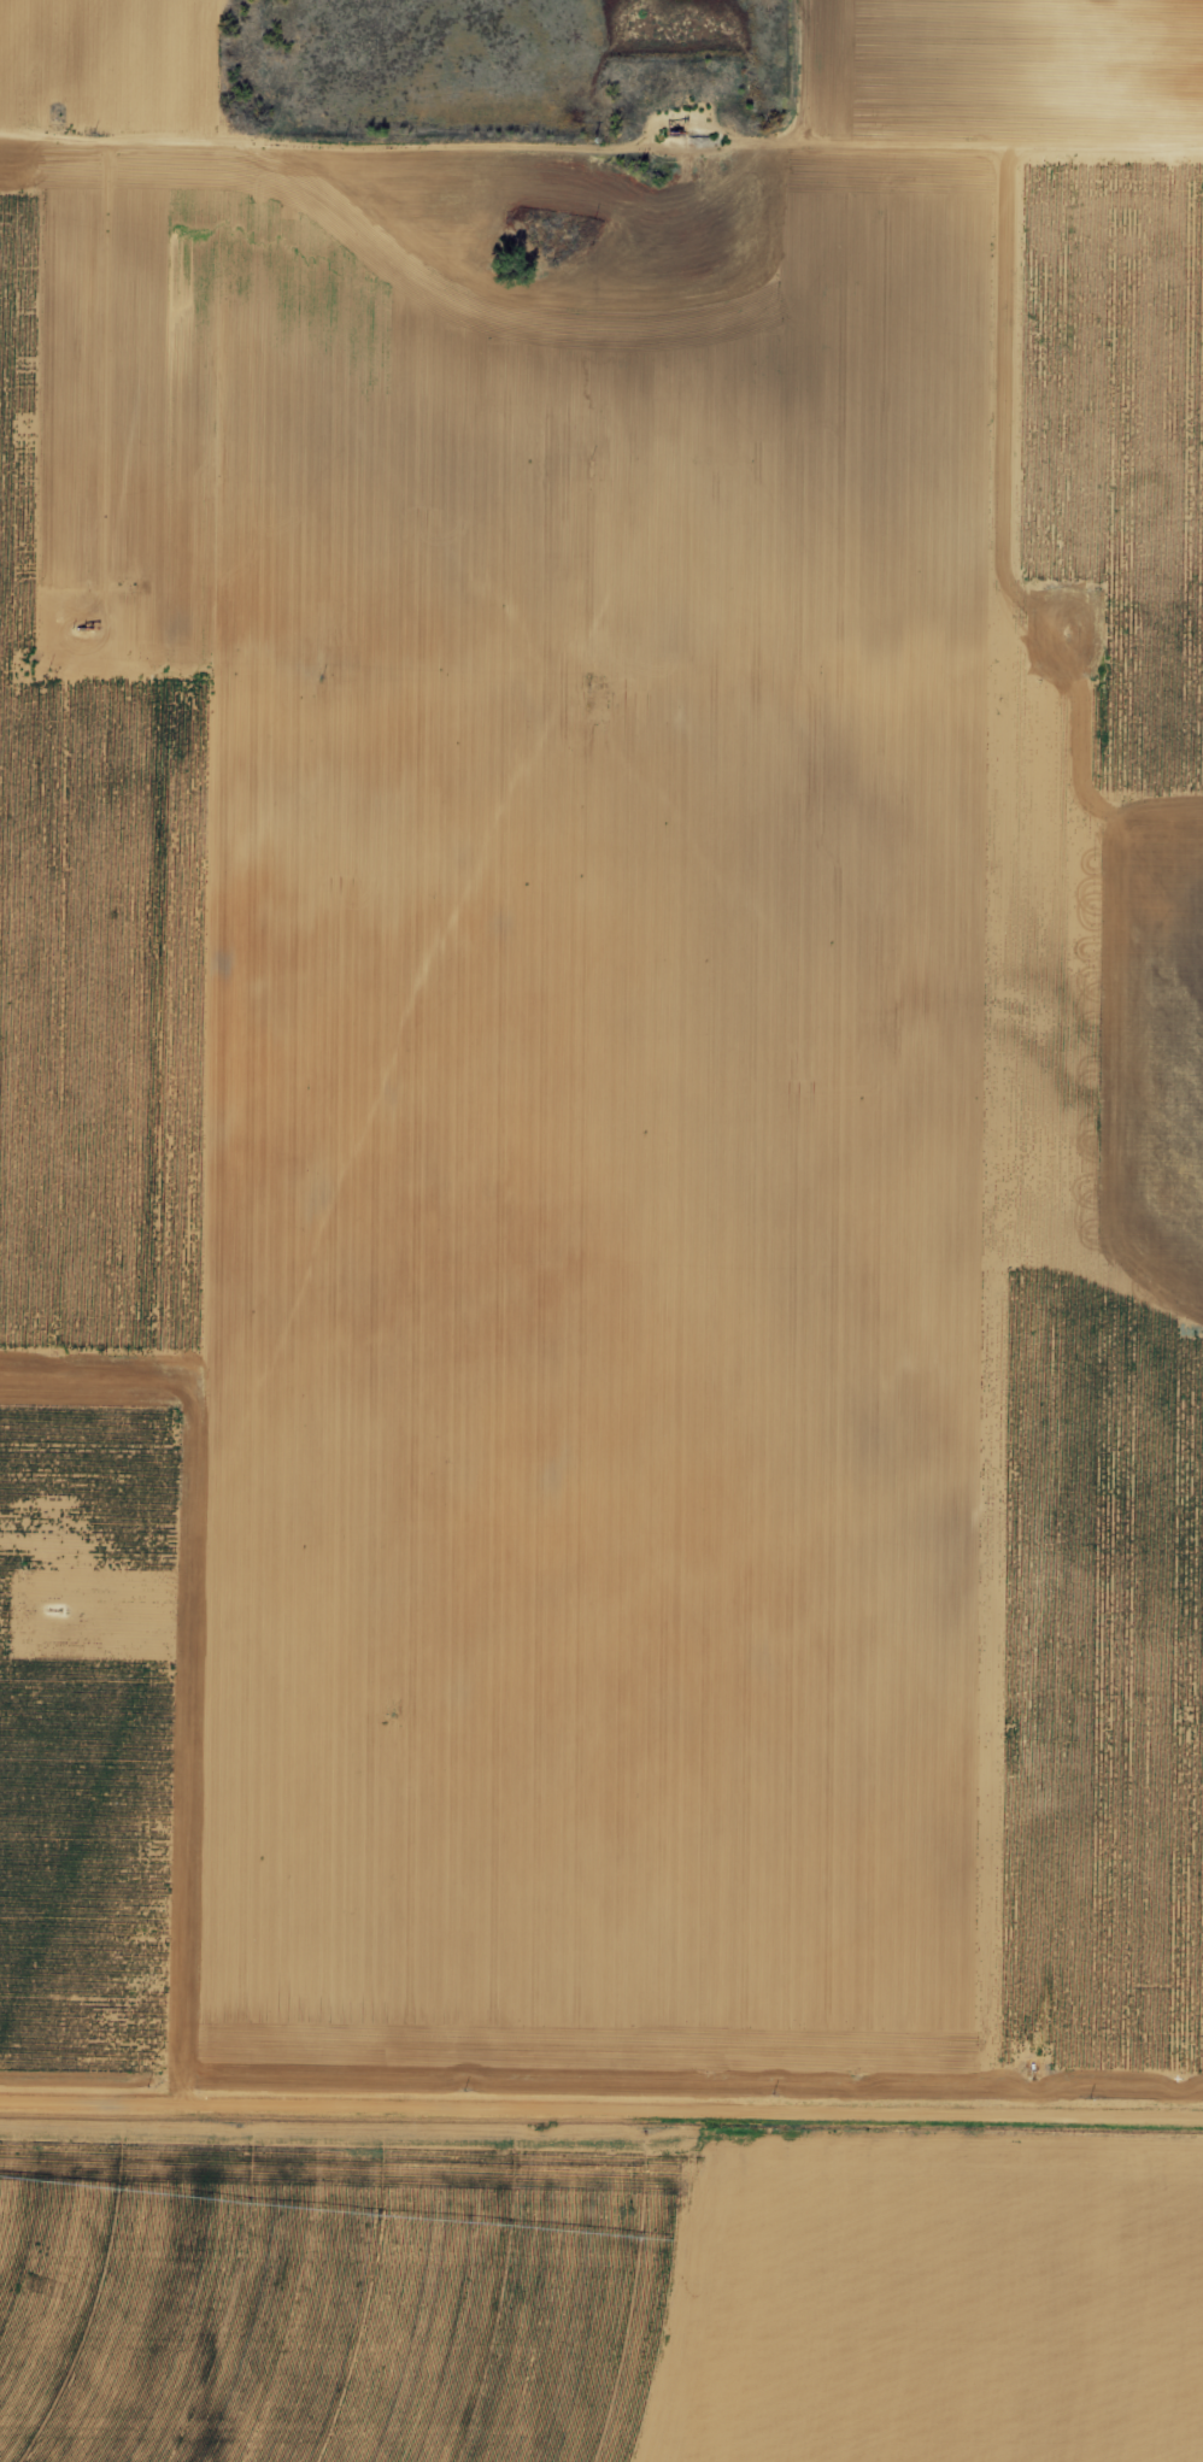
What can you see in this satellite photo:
road: (782, 76)
petroleum well: (661, 124)
road: (600, 147)
road: (601, 2110)

